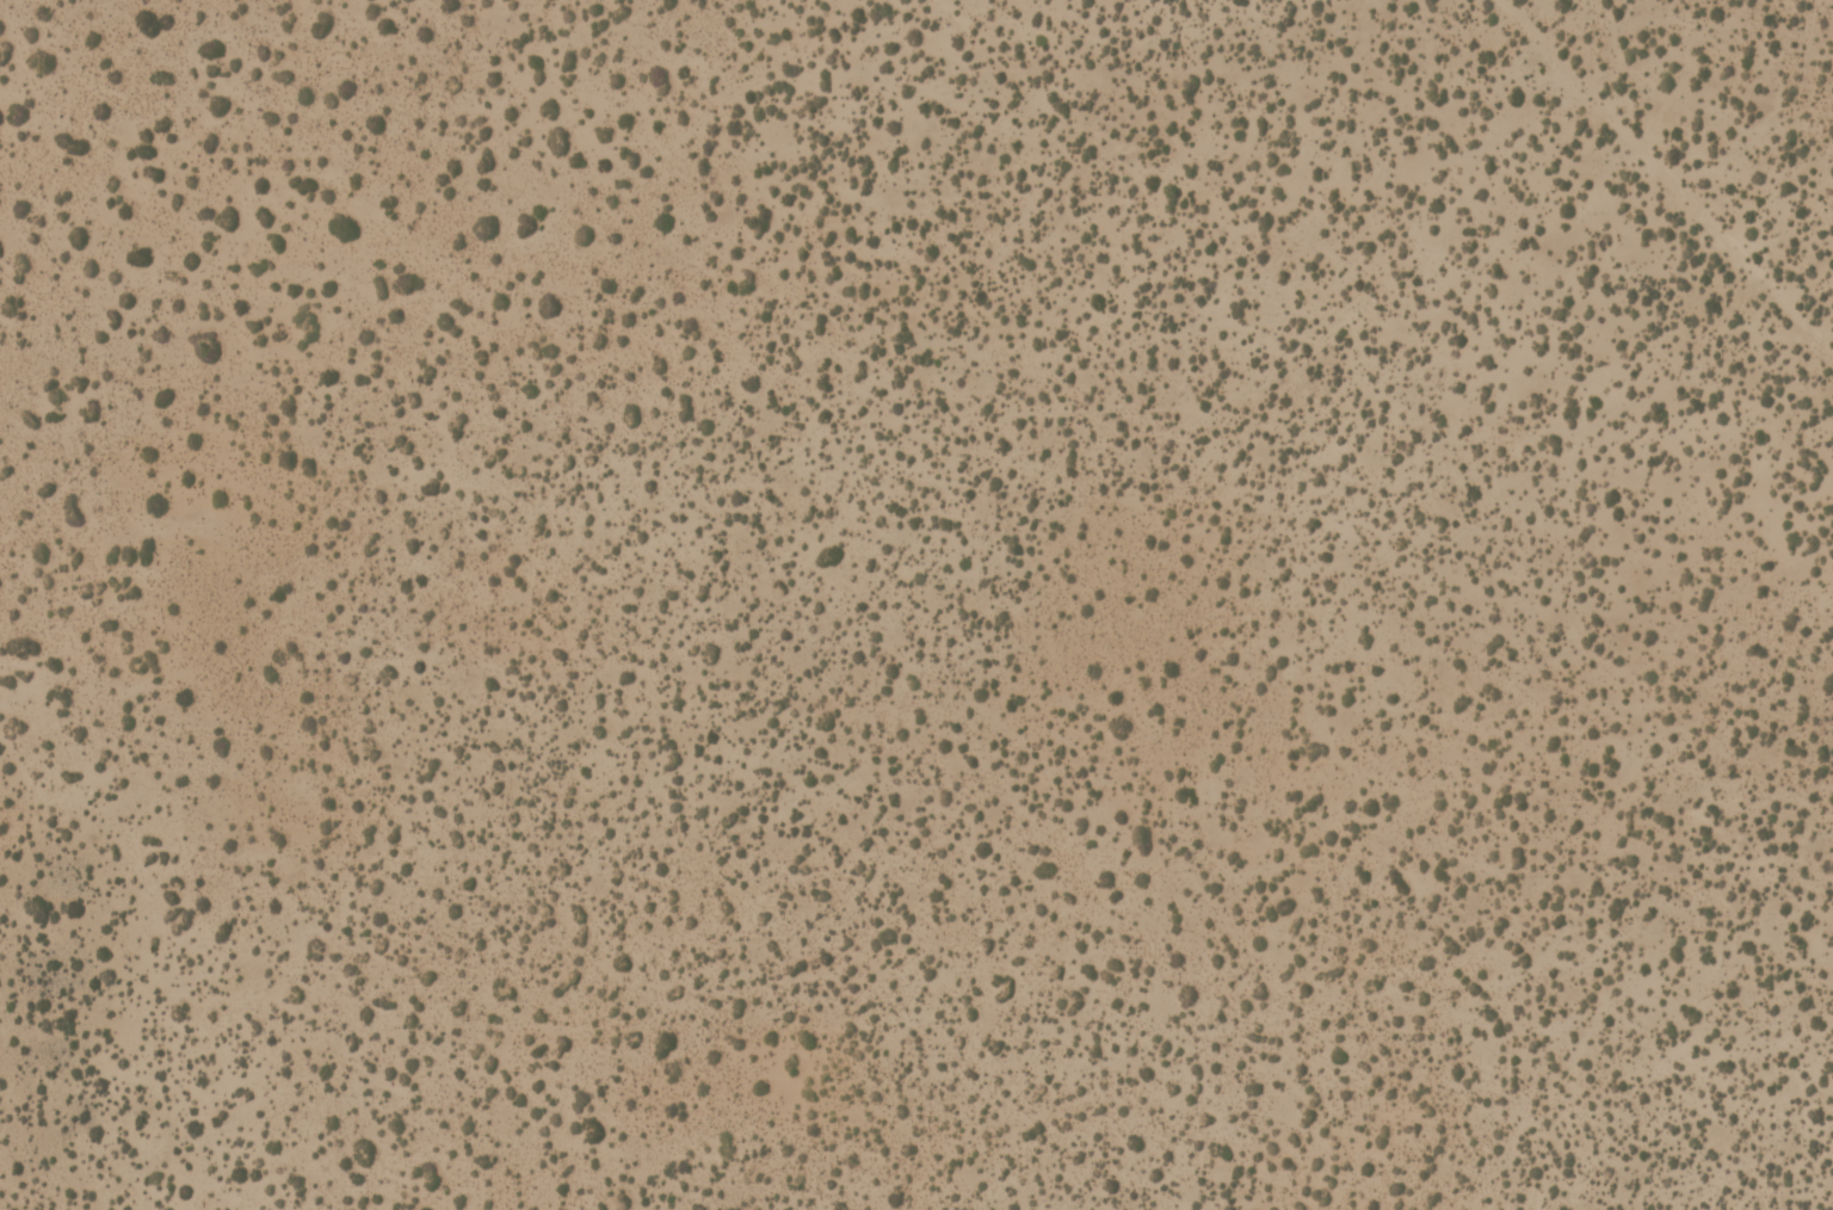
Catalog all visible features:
road: (1666, 175)

